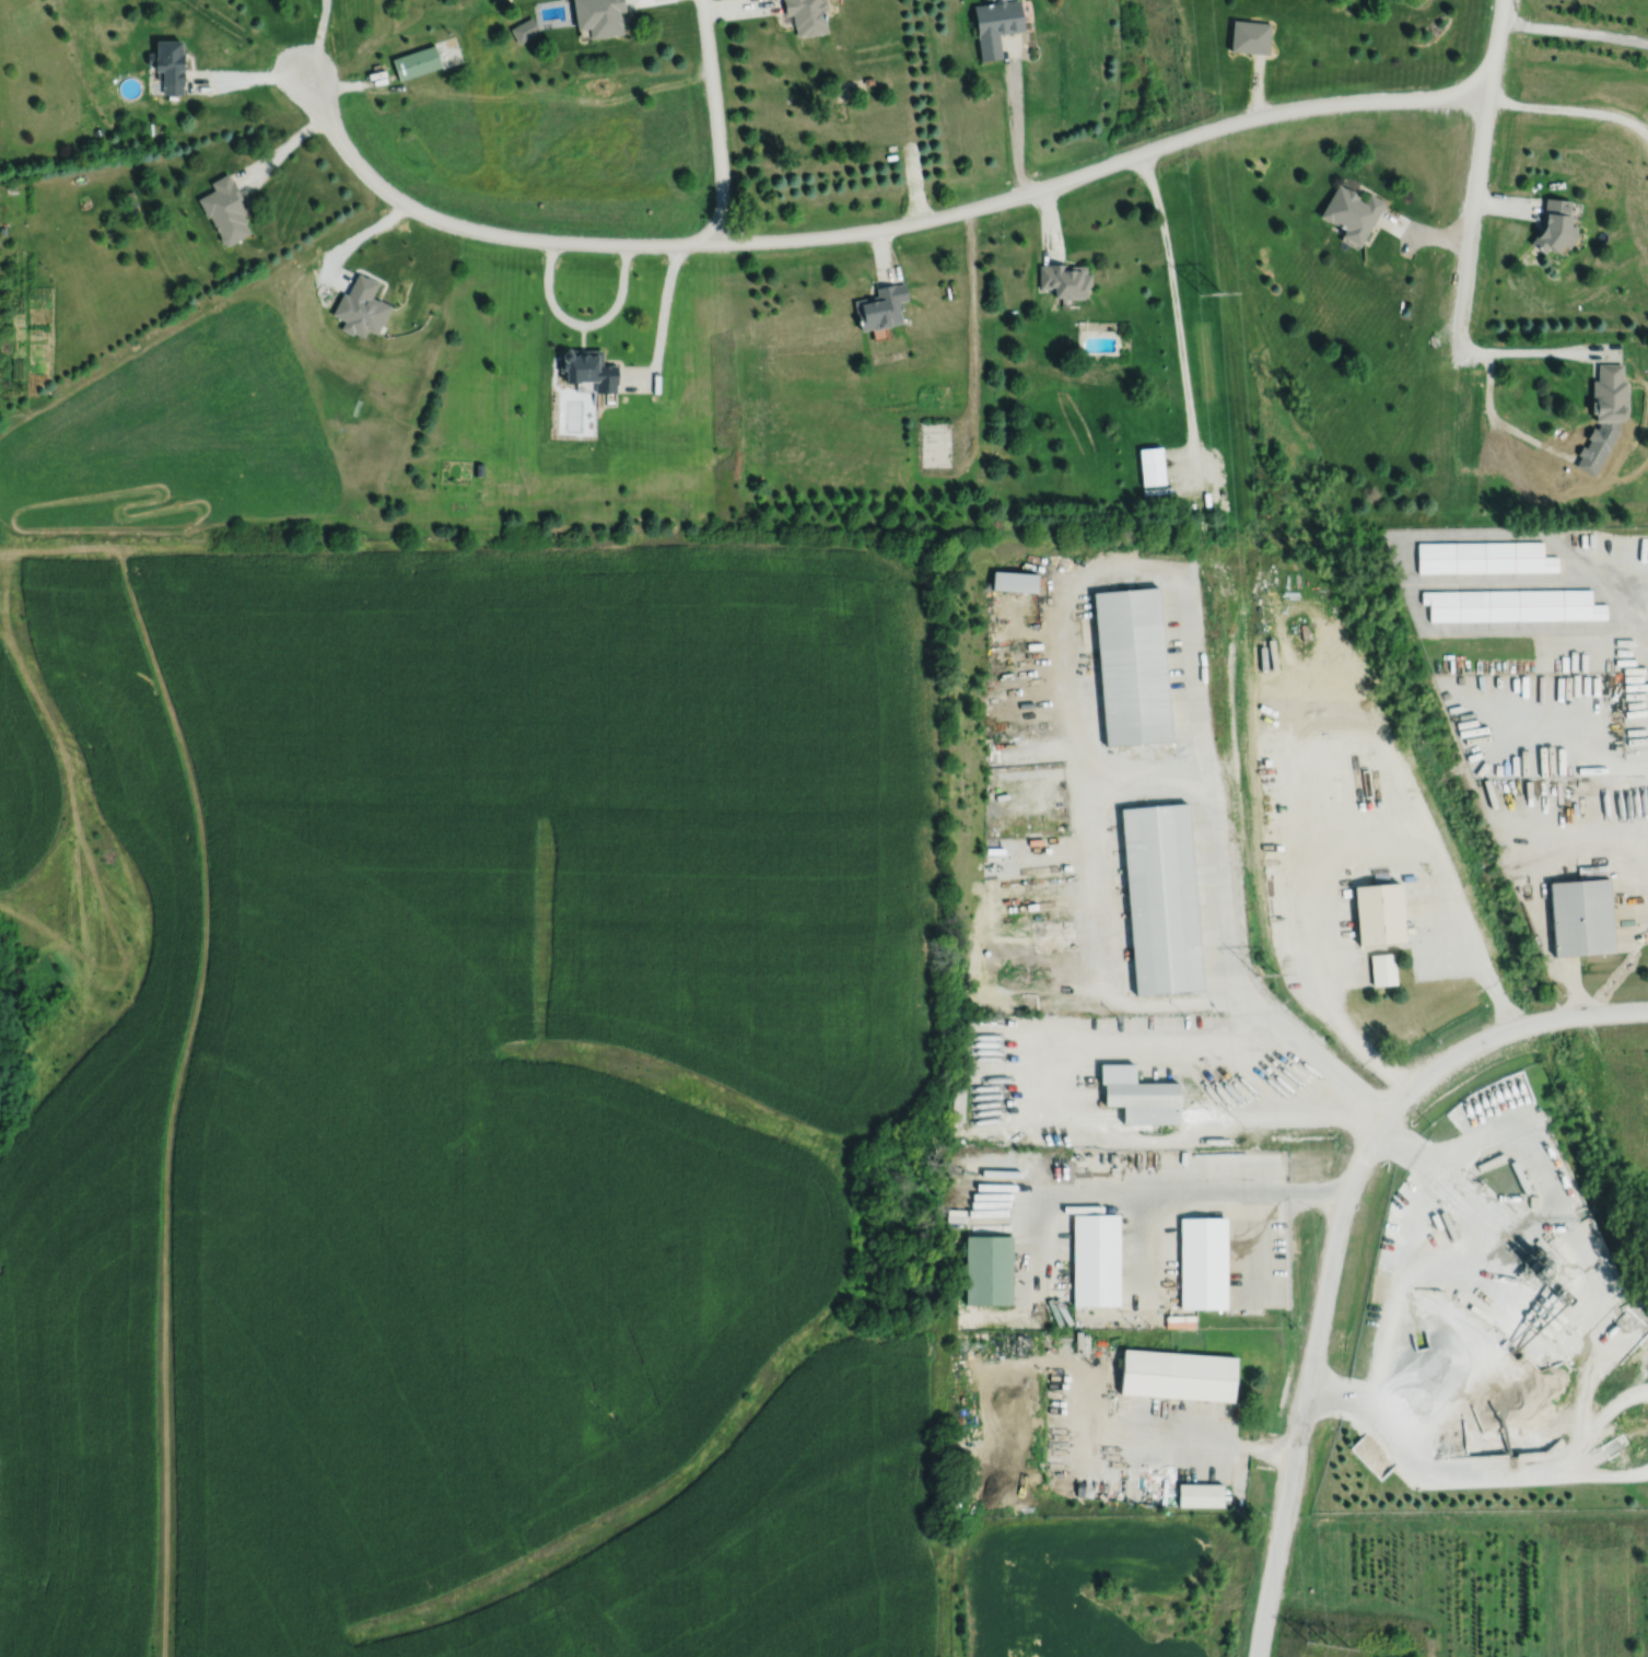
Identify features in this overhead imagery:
road: (740, 8)
building: (805, 15)
building: (598, 16)
building: (995, 25)
road: (1574, 31)
road: (317, 36)
building: (1248, 36)
building: (416, 62)
building: (168, 66)
road: (246, 77)
road: (352, 84)
road: (1254, 87)
road: (1569, 108)
road: (1014, 117)
road: (715, 120)
road: (282, 148)
road: (1104, 164)
road: (915, 180)
road: (1475, 183)
road: (1505, 205)
building: (225, 210)
building: (1351, 214)
road: (1048, 221)
building: (1555, 223)
building: (2, 230)
road: (476, 230)
road: (1424, 233)
road: (352, 240)
road: (881, 253)
building: (1066, 277)
building: (361, 305)
building: (880, 305)
power tower: (1228, 306)
road: (1177, 323)
road: (582, 324)
road: (661, 325)
road: (1538, 350)
building: (589, 366)
building: (1610, 392)
building: (935, 444)
building: (1153, 464)
building: (486, 469)
building: (1483, 556)
building: (1014, 580)
road: (1610, 584)
building: (1511, 604)
building: (1132, 666)
building: (1379, 766)
road: (1536, 882)
road: (1219, 892)
building: (1162, 900)
building: (1378, 914)
building: (1581, 918)
building: (1382, 970)
power tower: (1274, 978)
road: (1339, 1015)
road: (1518, 1025)
building: (1137, 1093)
road: (1053, 1099)
building: (966, 1171)
road: (1195, 1192)
building: (1532, 1199)
building: (1094, 1258)
building: (1202, 1261)
building: (985, 1268)
road: (1417, 1292)
road: (1310, 1366)
building: (1176, 1375)
road: (1194, 1439)
building: (1200, 1495)
power tower: (1328, 1646)

